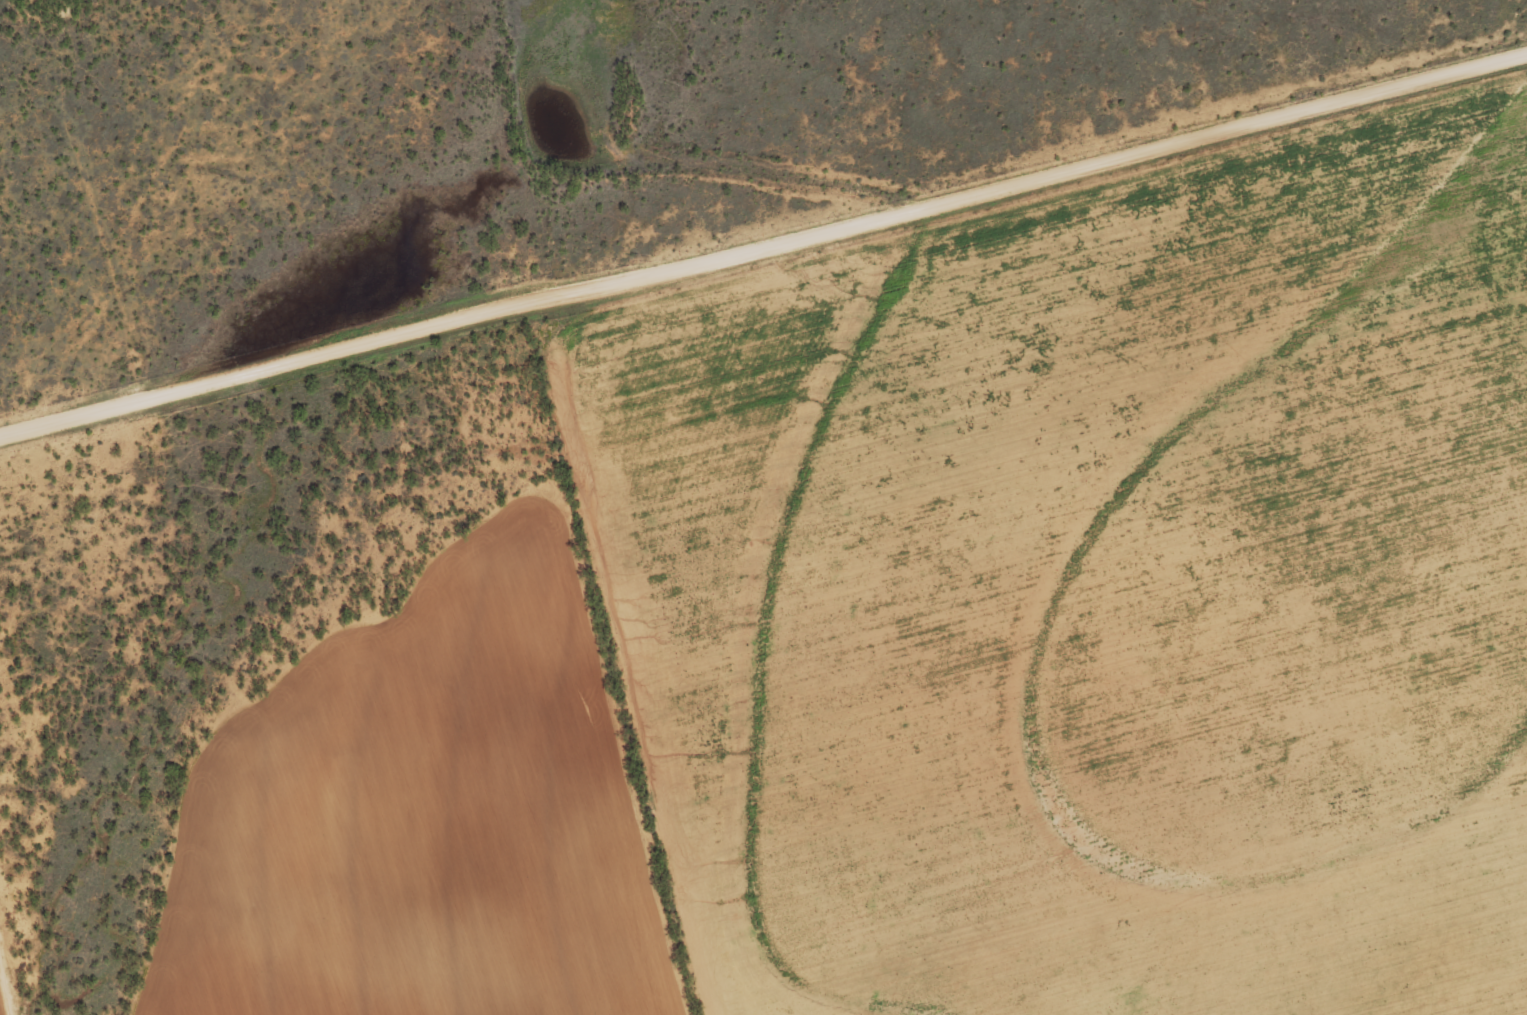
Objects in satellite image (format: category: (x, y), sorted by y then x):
road: (1054, 199)
road: (104, 258)
road: (288, 383)
road: (665, 664)

